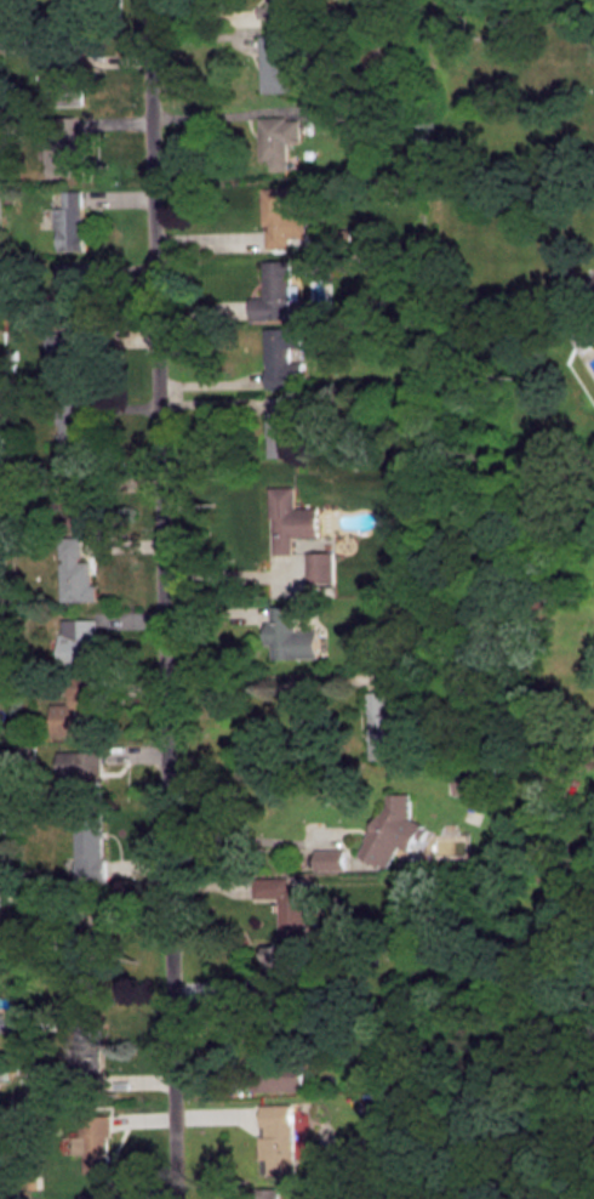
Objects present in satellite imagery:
building: (276, 8)
building: (276, 62)
building: (63, 75)
building: (279, 138)
building: (65, 157)
building: (285, 212)
building: (72, 218)
building: (275, 290)
building: (72, 291)
building: (67, 356)
building: (284, 357)
building: (284, 424)
building: (73, 428)
building: (78, 498)
building: (291, 517)
building: (322, 566)
building: (74, 568)
road: (162, 598)
building: (290, 632)
building: (80, 640)
road: (256, 677)
building: (78, 708)
building: (379, 723)
building: (84, 771)
building: (474, 777)
building: (390, 826)
building: (90, 845)
building: (329, 856)
building: (286, 898)
building: (279, 967)
building: (5, 1021)
building: (88, 1051)
building: (272, 1056)
building: (2, 1069)
building: (278, 1135)
building: (92, 1138)
building: (267, 1191)
building: (96, 1194)

